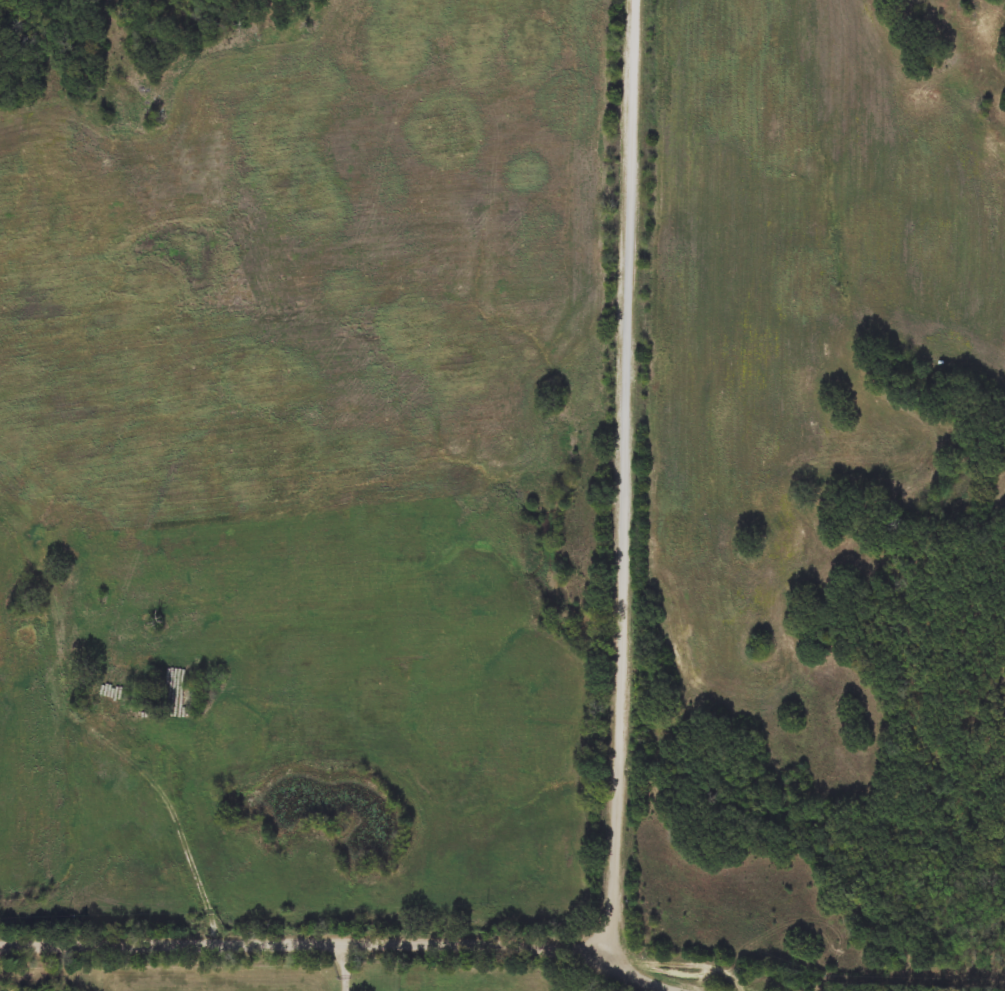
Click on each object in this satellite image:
road: (626, 482)
road: (186, 837)
road: (336, 942)
road: (341, 966)

